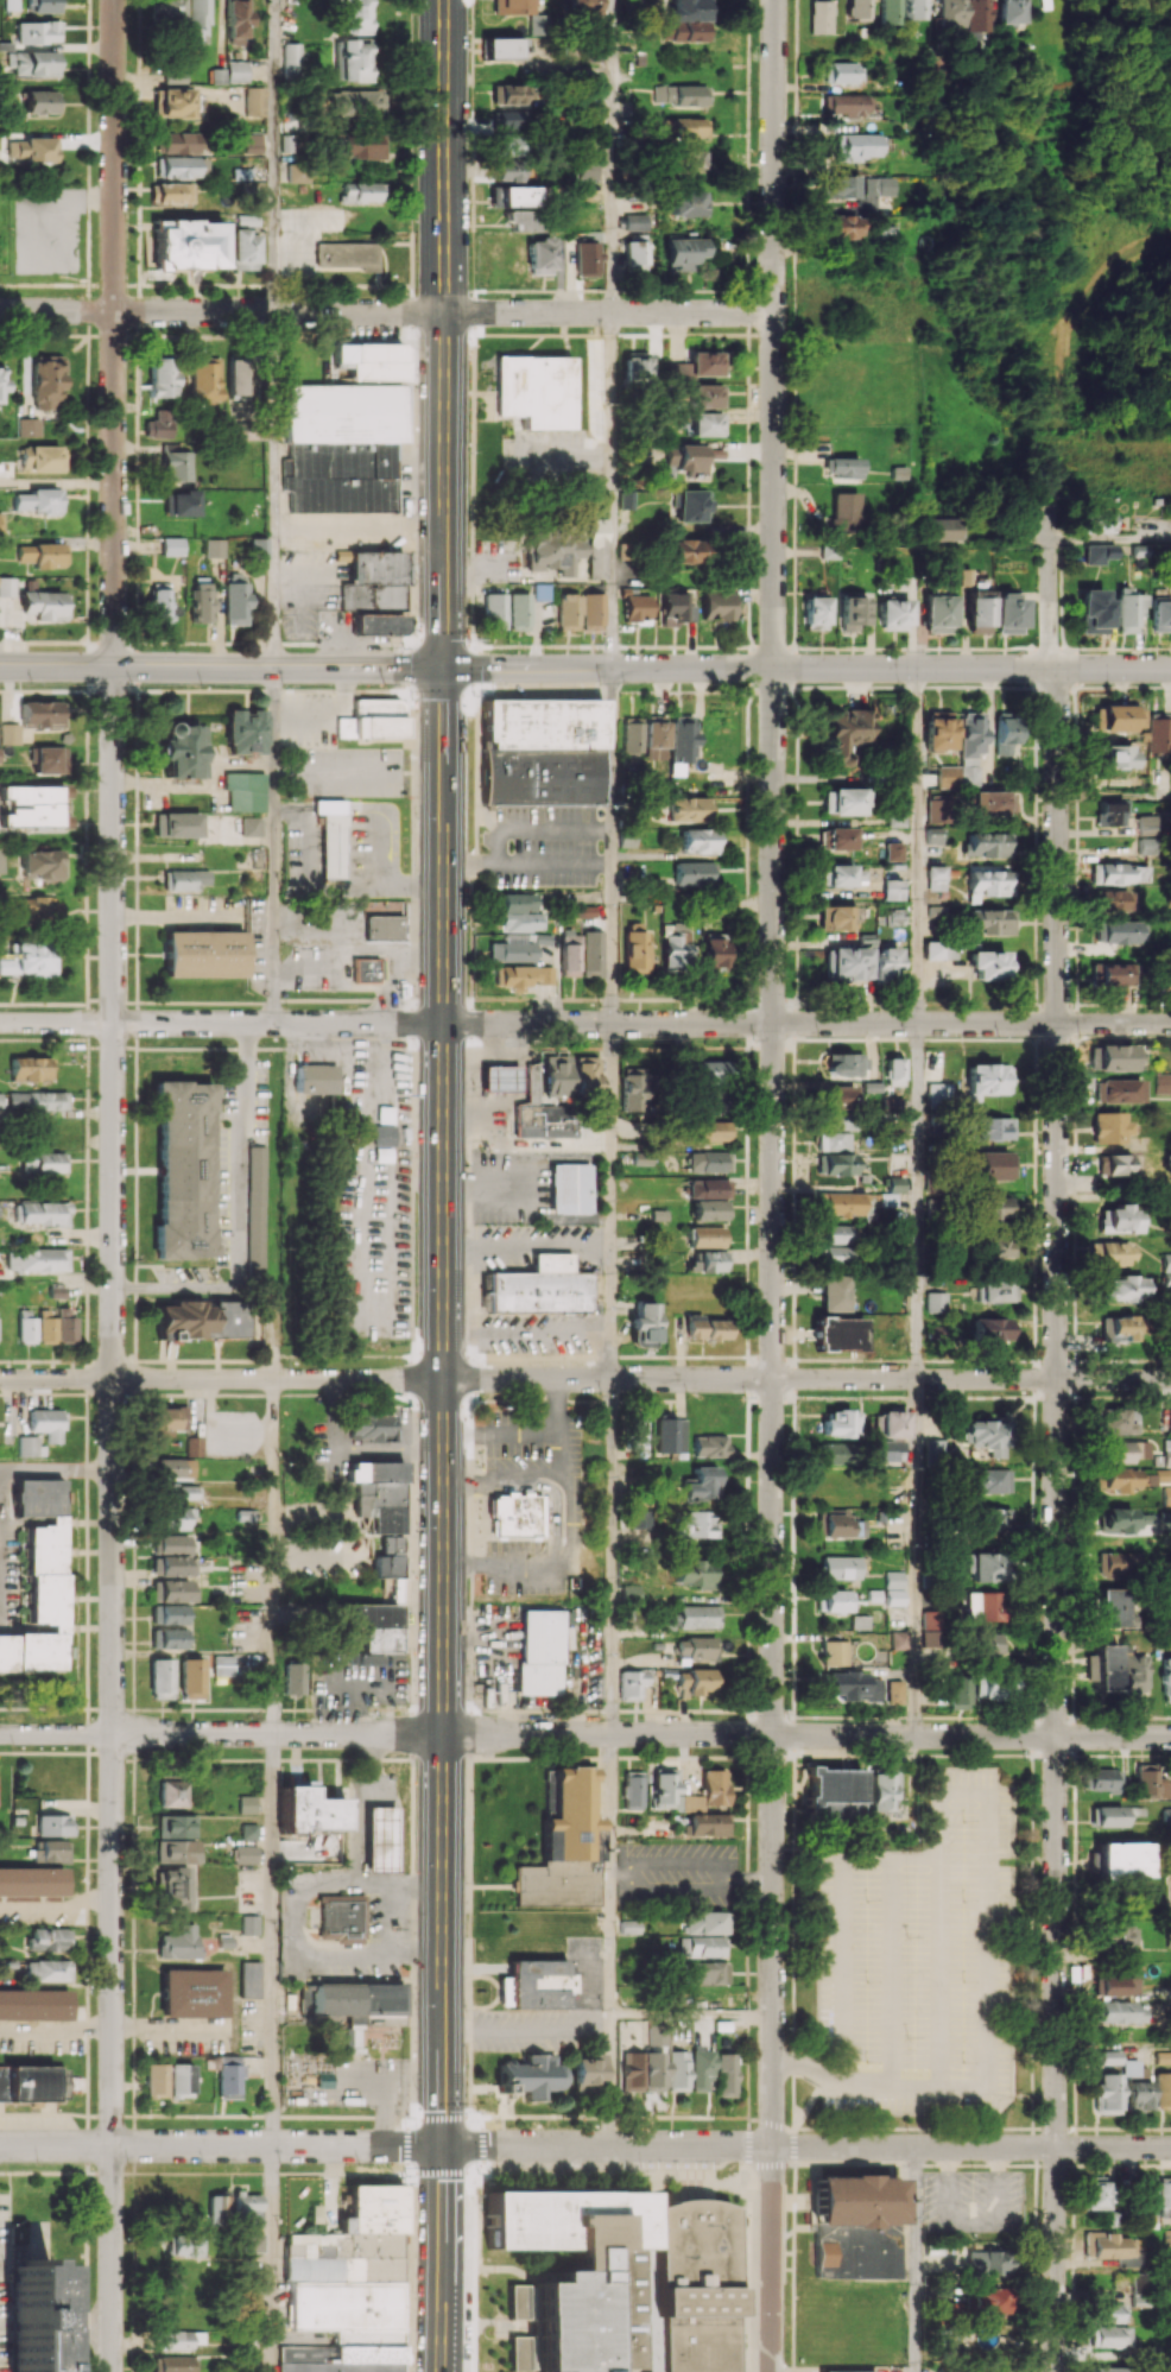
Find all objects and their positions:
building: (11, 5)
building: (42, 6)
building: (511, 7)
building: (583, 7)
building: (914, 8)
building: (857, 10)
building: (166, 11)
building: (891, 12)
building: (1011, 12)
building: (952, 13)
building: (354, 17)
building: (822, 17)
building: (976, 18)
building: (236, 20)
building: (688, 20)
building: (197, 21)
building: (538, 25)
building: (37, 32)
building: (502, 48)
building: (593, 50)
building: (291, 59)
building: (354, 61)
building: (33, 63)
building: (236, 71)
building: (844, 72)
building: (175, 76)
building: (217, 76)
building: (509, 94)
building: (679, 94)
building: (255, 100)
building: (42, 102)
building: (173, 102)
building: (362, 102)
building: (847, 103)
building: (511, 120)
building: (689, 128)
building: (176, 143)
building: (252, 143)
building: (362, 145)
building: (507, 145)
building: (857, 146)
building: (32, 150)
road: (274, 156)
road: (610, 156)
building: (691, 159)
building: (182, 166)
building: (589, 169)
building: (297, 171)
building: (507, 171)
building: (879, 185)
building: (842, 186)
building: (362, 191)
building: (171, 192)
building: (512, 196)
building: (690, 203)
building: (520, 221)
building: (843, 226)
building: (188, 243)
building: (243, 249)
building: (685, 253)
building: (346, 255)
building: (540, 255)
building: (631, 259)
park: (1066, 266)
road: (222, 311)
road: (609, 312)
road: (1080, 329)
road: (115, 333)
building: (371, 360)
building: (640, 366)
building: (700, 366)
building: (2, 377)
building: (162, 377)
building: (236, 378)
building: (48, 381)
building: (204, 381)
building: (534, 390)
building: (708, 396)
building: (159, 424)
building: (708, 424)
building: (29, 428)
building: (341, 445)
road: (564, 453)
building: (686, 457)
building: (43, 458)
building: (176, 463)
building: (844, 467)
road: (273, 489)
road: (610, 489)
building: (38, 500)
building: (626, 500)
building: (181, 504)
building: (692, 506)
building: (846, 507)
building: (1099, 523)
building: (0, 524)
building: (943, 529)
road: (1109, 540)
building: (171, 546)
building: (214, 548)
building: (258, 548)
building: (595, 548)
building: (552, 550)
building: (626, 550)
building: (684, 550)
building: (1099, 554)
building: (43, 555)
building: (372, 580)
building: (201, 582)
building: (7, 586)
building: (540, 594)
building: (235, 599)
building: (159, 602)
building: (45, 606)
building: (201, 606)
building: (716, 606)
building: (635, 607)
building: (673, 608)
building: (494, 611)
building: (853, 611)
building: (518, 612)
building: (566, 612)
building: (591, 612)
building: (894, 612)
building: (1094, 612)
building: (816, 613)
building: (1008, 613)
building: (1127, 613)
building: (938, 614)
building: (1159, 616)
building: (376, 624)
road: (220, 666)
traffic signals: (442, 668)
road: (806, 668)
building: (42, 714)
building: (1115, 717)
building: (372, 719)
building: (245, 730)
building: (654, 730)
building: (938, 730)
building: (8, 733)
building: (848, 733)
building: (1005, 734)
building: (1159, 734)
building: (682, 739)
building: (631, 742)
building: (970, 746)
building: (183, 751)
building: (542, 752)
building: (1115, 758)
building: (49, 759)
road: (334, 771)
building: (948, 776)
building: (245, 791)
road: (1114, 795)
building: (844, 801)
building: (993, 803)
building: (32, 807)
building: (689, 809)
building: (937, 810)
building: (1109, 814)
building: (177, 824)
building: (1146, 824)
building: (251, 827)
road: (540, 831)
building: (933, 835)
building: (331, 839)
building: (627, 839)
building: (837, 839)
building: (700, 841)
building: (987, 843)
road: (273, 845)
road: (612, 845)
road: (918, 846)
building: (1145, 847)
building: (894, 852)
building: (0, 860)
road: (527, 861)
building: (42, 865)
building: (694, 873)
building: (1118, 873)
building: (842, 875)
building: (936, 878)
building: (188, 879)
building: (893, 883)
building: (990, 883)
building: (1115, 900)
building: (31, 909)
building: (581, 911)
building: (518, 912)
building: (836, 917)
building: (989, 922)
building: (385, 923)
building: (1119, 931)
building: (673, 945)
building: (518, 947)
building: (634, 948)
building: (939, 949)
building: (569, 950)
road: (355, 951)
building: (713, 951)
building: (591, 953)
building: (205, 954)
building: (27, 959)
building: (844, 963)
building: (887, 963)
building: (988, 964)
building: (368, 969)
building: (1112, 974)
building: (524, 975)
road: (349, 985)
road: (394, 986)
road: (584, 1023)
building: (1109, 1057)
building: (847, 1065)
building: (31, 1069)
building: (894, 1071)
building: (711, 1074)
building: (500, 1077)
building: (315, 1079)
building: (986, 1081)
building: (1163, 1082)
building: (632, 1087)
building: (1118, 1090)
building: (937, 1094)
building: (841, 1098)
building: (0, 1100)
building: (546, 1100)
building: (37, 1101)
building: (831, 1122)
building: (1109, 1127)
building: (992, 1128)
building: (713, 1131)
building: (384, 1136)
building: (833, 1141)
building: (381, 1155)
building: (641, 1158)
building: (708, 1162)
building: (50, 1163)
building: (835, 1164)
building: (1116, 1164)
building: (995, 1165)
building: (184, 1170)
building: (894, 1184)
road: (443, 1185)
road: (772, 1185)
building: (570, 1188)
building: (709, 1188)
road: (612, 1200)
road: (273, 1201)
road: (916, 1201)
building: (843, 1204)
building: (995, 1207)
building: (710, 1209)
building: (257, 1210)
building: (44, 1213)
road: (240, 1216)
building: (1119, 1219)
building: (836, 1233)
building: (707, 1236)
building: (995, 1246)
building: (1110, 1253)
building: (836, 1257)
building: (37, 1259)
building: (713, 1260)
building: (1166, 1270)
building: (542, 1286)
building: (1123, 1289)
building: (998, 1290)
building: (835, 1293)
building: (935, 1302)
building: (203, 1318)
building: (67, 1324)
building: (644, 1324)
building: (27, 1327)
building: (708, 1328)
building: (1120, 1328)
building: (892, 1330)
building: (992, 1330)
road: (526, 1332)
building: (838, 1334)
road: (585, 1378)
building: (169, 1418)
building: (1170, 1419)
building: (1116, 1421)
building: (48, 1423)
building: (841, 1423)
building: (893, 1424)
building: (369, 1427)
road: (215, 1430)
road: (523, 1430)
building: (638, 1431)
building: (986, 1435)
road: (1057, 1440)
building: (195, 1446)
building: (709, 1446)
building: (30, 1447)
building: (935, 1449)
building: (1121, 1450)
building: (1166, 1451)
building: (836, 1453)
building: (894, 1457)
building: (176, 1467)
road: (56, 1469)
road: (518, 1472)
building: (1158, 1476)
building: (1120, 1479)
building: (988, 1480)
building: (701, 1484)
building: (507, 1488)
building: (179, 1493)
building: (376, 1493)
building: (1166, 1495)
building: (245, 1514)
road: (113, 1518)
building: (176, 1518)
building: (514, 1518)
building: (641, 1519)
building: (994, 1519)
building: (1125, 1522)
building: (835, 1523)
building: (1165, 1523)
building: (692, 1524)
building: (178, 1543)
road: (272, 1556)
road: (612, 1556)
road: (913, 1557)
building: (390, 1563)
road: (557, 1563)
building: (171, 1564)
building: (1118, 1564)
building: (840, 1567)
building: (986, 1567)
building: (695, 1573)
building: (40, 1580)
building: (894, 1588)
building: (176, 1590)
building: (629, 1593)
building: (835, 1600)
building: (985, 1606)
building: (1116, 1607)
building: (170, 1614)
building: (697, 1617)
building: (930, 1619)
building: (665, 1620)
building: (860, 1621)
building: (375, 1625)
building: (169, 1638)
building: (900, 1640)
building: (988, 1644)
building: (696, 1647)
building: (540, 1651)
building: (834, 1652)
building: (371, 1659)
building: (222, 1664)
building: (1106, 1668)
building: (1135, 1674)
building: (160, 1678)
building: (191, 1678)
building: (292, 1678)
building: (1166, 1678)
building: (1006, 1681)
building: (692, 1683)
building: (631, 1684)
building: (844, 1684)
building: (894, 1691)
building: (957, 1691)
road: (221, 1734)
road: (806, 1734)
building: (1104, 1779)
building: (1146, 1780)
building: (714, 1782)
building: (1163, 1789)
building: (633, 1790)
building: (884, 1790)
road: (964, 1790)
building: (170, 1794)
building: (834, 1796)
building: (246, 1804)
building: (308, 1814)
building: (1115, 1815)
building: (53, 1824)
building: (708, 1824)
building: (175, 1827)
building: (248, 1832)
building: (379, 1840)
building: (566, 1847)
road: (353, 1848)
building: (51, 1851)
building: (175, 1851)
building: (246, 1854)
building: (1121, 1859)
road: (671, 1860)
road: (619, 1872)
road: (722, 1873)
road: (610, 1874)
road: (747, 1874)
building: (32, 1881)
building: (173, 1887)
road: (671, 1887)
road: (56, 1904)
road: (386, 1917)
road: (841, 1917)
building: (342, 1918)
building: (705, 1922)
building: (249, 1924)
building: (629, 1927)
road: (941, 1936)
building: (1115, 1936)
road: (987, 1937)
building: (48, 1938)
road: (272, 1940)
building: (178, 1943)
building: (702, 1946)
road: (308, 1950)
parking lot: (923, 1957)
road: (891, 1968)
building: (45, 1971)
building: (704, 1973)
building: (249, 1979)
building: (539, 1984)
building: (1118, 1986)
building: (192, 1993)
building: (33, 2004)
building: (352, 2005)
building: (1116, 2012)
road: (691, 2016)
road: (610, 2023)
road: (167, 2028)
road: (526, 2029)
road: (56, 2031)
building: (654, 2035)
road: (1114, 2044)
building: (1110, 2056)
building: (1163, 2057)
road: (808, 2064)
building: (700, 2069)
building: (677, 2070)
building: (641, 2071)
building: (588, 2073)
building: (724, 2074)
building: (532, 2076)
building: (229, 2077)
building: (156, 2080)
building: (179, 2081)
road: (913, 2082)
building: (31, 2083)
building: (1137, 2085)
road: (610, 2088)
building: (1163, 2090)
building: (1107, 2094)
road: (221, 2145)
traffic signals: (442, 2146)
road: (806, 2146)
building: (1093, 2193)
building: (1146, 2196)
building: (1164, 2197)
building: (219, 2208)
building: (247, 2209)
building: (855, 2227)
building: (1166, 2237)
building: (254, 2243)
building: (1106, 2245)
building: (185, 2247)
road: (273, 2258)
road: (913, 2259)
building: (990, 2262)
building: (613, 2283)
building: (348, 2286)
building: (1139, 2289)
building: (987, 2301)
building: (1110, 2313)
building: (32, 2317)
building: (1110, 2336)
building: (178, 2340)
building: (178, 2364)
building: (1103, 2370)
building: (842, 2371)

